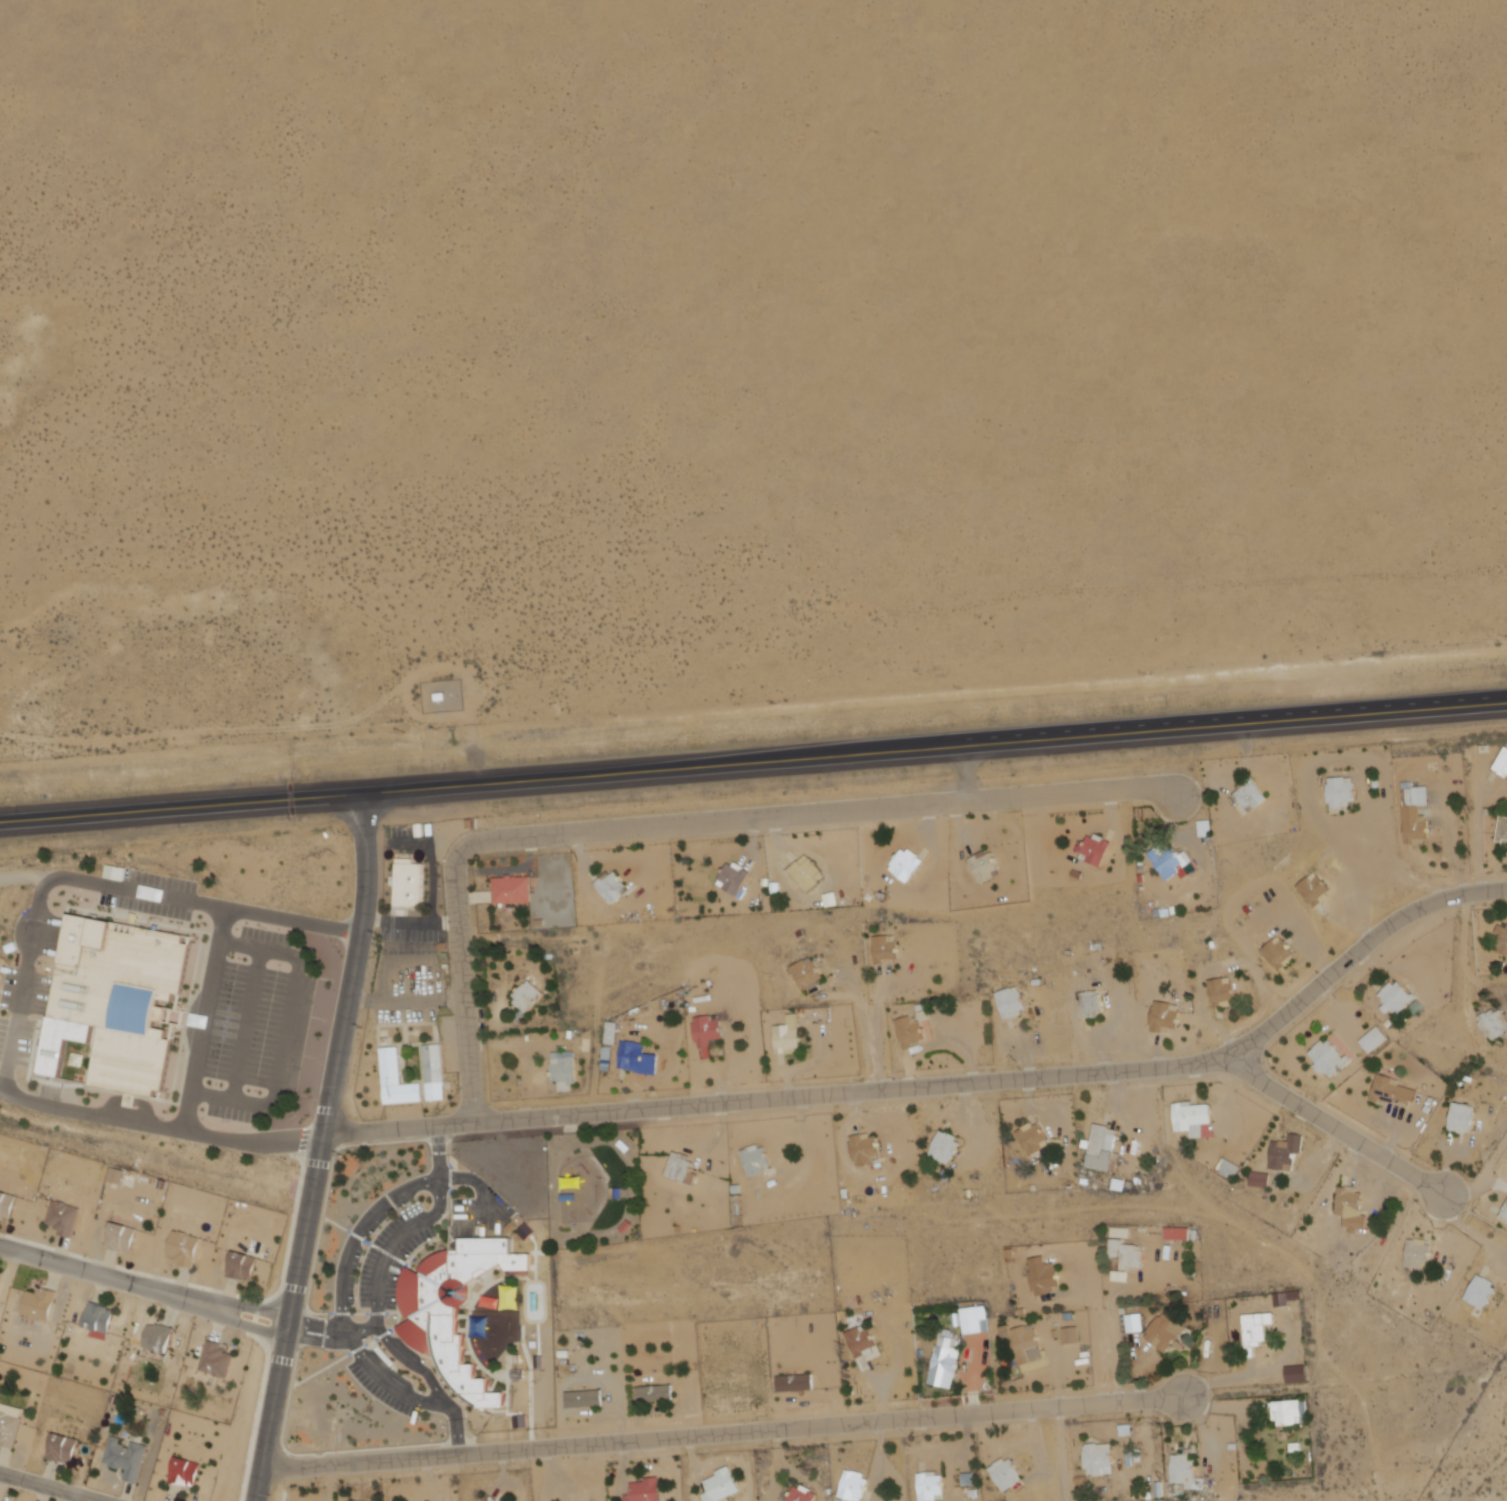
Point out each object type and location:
road: (753, 758)
building: (1501, 763)
building: (1339, 792)
building: (1250, 795)
building: (1413, 812)
road: (29, 821)
road: (679, 823)
building: (1501, 831)
building: (1097, 848)
building: (1174, 861)
building: (907, 863)
building: (988, 865)
building: (809, 872)
building: (735, 877)
building: (411, 882)
building: (614, 885)
building: (512, 889)
building: (1313, 889)
building: (1501, 937)
building: (888, 949)
building: (1277, 952)
building: (809, 974)
road: (24, 987)
building: (1219, 992)
building: (527, 997)
building: (1393, 997)
building: (121, 1001)
building: (1013, 1002)
building: (1091, 1002)
building: (1162, 1018)
road: (205, 1019)
building: (1492, 1023)
road: (250, 1025)
road: (287, 1030)
building: (707, 1033)
building: (912, 1033)
building: (789, 1035)
building: (1371, 1039)
building: (639, 1058)
building: (606, 1059)
building: (1327, 1060)
building: (565, 1069)
building: (436, 1072)
building: (400, 1079)
road: (942, 1085)
building: (1388, 1091)
building: (1460, 1118)
building: (1192, 1119)
road: (1333, 1124)
building: (1035, 1136)
building: (625, 1146)
road: (320, 1147)
building: (866, 1147)
building: (947, 1147)
building: (1104, 1148)
road: (439, 1152)
building: (1284, 1153)
building: (757, 1159)
building: (682, 1166)
building: (1261, 1176)
road: (1482, 1176)
building: (576, 1182)
park: (597, 1187)
building: (620, 1193)
building: (572, 1197)
building: (7, 1203)
building: (1350, 1209)
building: (1503, 1215)
building: (65, 1217)
building: (628, 1225)
building: (1179, 1231)
building: (124, 1237)
road: (359, 1240)
building: (186, 1247)
building: (1416, 1253)
building: (1129, 1255)
road: (58, 1264)
building: (245, 1265)
building: (1046, 1277)
building: (1479, 1292)
road: (202, 1296)
building: (41, 1304)
building: (458, 1308)
road: (200, 1309)
building: (974, 1319)
building: (100, 1320)
building: (1136, 1320)
road: (317, 1323)
building: (1071, 1332)
building: (1167, 1332)
building: (1254, 1332)
building: (161, 1337)
road: (313, 1340)
building: (863, 1341)
building: (1026, 1342)
building: (217, 1359)
road: (1110, 1359)
building: (947, 1361)
building: (1298, 1371)
building: (798, 1382)
building: (727, 1388)
building: (657, 1393)
road: (408, 1396)
building: (586, 1398)
building: (1287, 1412)
building: (10, 1424)
road: (722, 1433)
building: (64, 1448)
road: (1062, 1454)
building: (129, 1459)
building: (1100, 1459)
building: (188, 1472)
building: (1009, 1473)
building: (1187, 1474)
building: (722, 1485)
building: (855, 1485)
road: (50, 1486)
building: (933, 1486)
building: (647, 1490)
building: (803, 1494)
building: (355, 1500)
building: (498, 1500)

